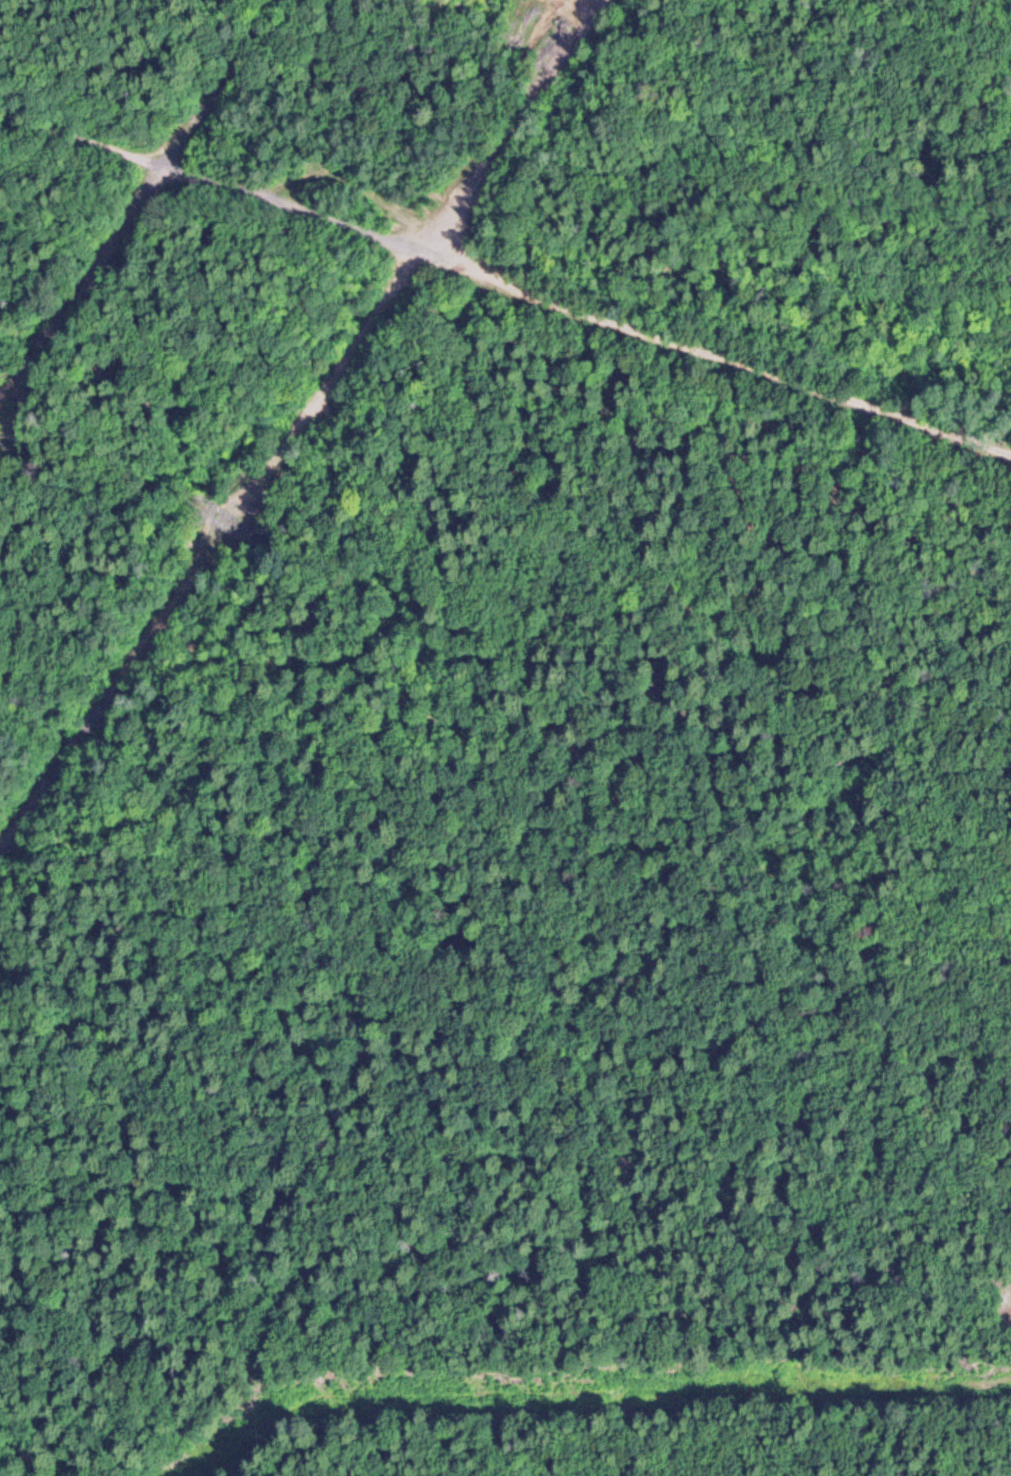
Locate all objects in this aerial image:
road: (504, 284)
road: (303, 421)

